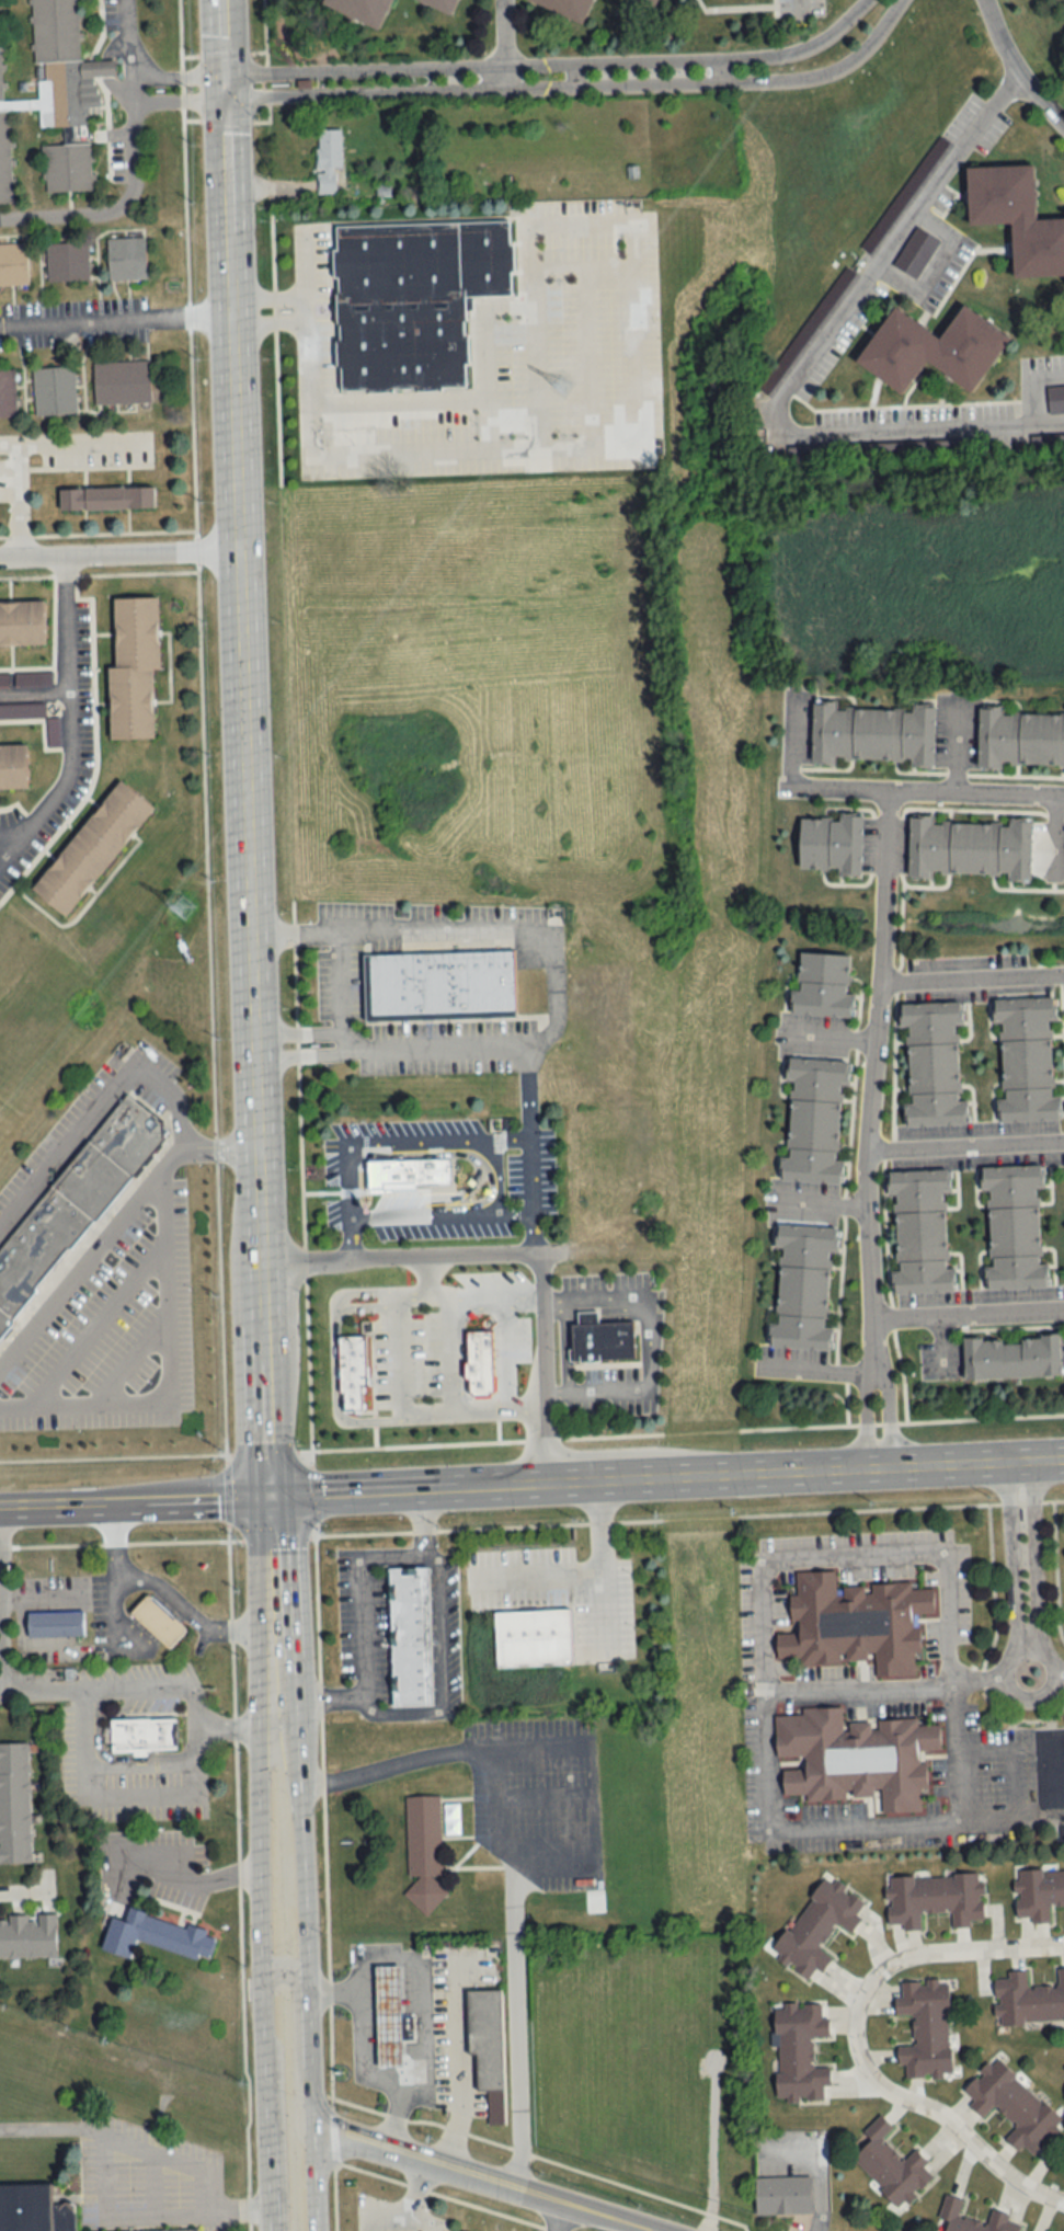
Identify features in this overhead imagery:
building: (650, 2)
building: (443, 4)
building: (567, 8)
road: (796, 9)
building: (362, 10)
road: (503, 45)
road: (549, 64)
road: (1012, 70)
traffic signals: (219, 73)
road: (173, 75)
road: (575, 88)
traffic signals: (219, 99)
road: (174, 101)
building: (328, 160)
road: (134, 167)
building: (1017, 218)
building: (915, 251)
building: (126, 259)
building: (67, 261)
building: (13, 264)
road: (594, 264)
road: (933, 268)
road: (270, 299)
building: (415, 299)
road: (531, 304)
road: (271, 322)
road: (112, 323)
building: (933, 350)
building: (791, 352)
parking lot: (510, 353)
road: (801, 366)
road: (544, 375)
building: (121, 382)
power tower: (562, 386)
road: (1033, 386)
building: (54, 390)
building: (7, 393)
building: (1055, 400)
road: (495, 422)
road: (70, 439)
building: (1052, 442)
road: (523, 446)
road: (18, 499)
building: (107, 499)
road: (116, 556)
building: (20, 619)
building: (129, 663)
road: (34, 690)
road: (69, 722)
road: (202, 726)
building: (873, 733)
building: (1020, 736)
road: (791, 740)
road: (956, 745)
road: (239, 746)
building: (11, 759)
road: (926, 796)
road: (12, 836)
road: (1061, 837)
building: (88, 844)
building: (832, 844)
building: (970, 847)
power tower: (185, 905)
road: (557, 946)
road: (970, 975)
building: (438, 981)
building: (823, 984)
road: (341, 992)
road: (828, 1034)
road: (392, 1049)
building: (1027, 1059)
building: (933, 1064)
road: (868, 1085)
road: (98, 1099)
building: (814, 1120)
building: (126, 1132)
road: (963, 1145)
building: (411, 1167)
road: (300, 1174)
road: (496, 1175)
building: (88, 1178)
road: (348, 1179)
road: (822, 1205)
building: (1015, 1227)
road: (113, 1229)
building: (922, 1232)
road: (350, 1235)
building: (35, 1243)
road: (508, 1249)
road: (430, 1271)
building: (803, 1286)
road: (638, 1295)
road: (968, 1311)
building: (3, 1318)
road: (96, 1324)
building: (600, 1338)
road: (396, 1343)
building: (1012, 1357)
road: (130, 1359)
building: (368, 1360)
road: (167, 1364)
building: (352, 1369)
road: (816, 1369)
road: (597, 1387)
road: (886, 1419)
road: (869, 1420)
road: (901, 1422)
road: (364, 1449)
road: (265, 1452)
road: (112, 1458)
road: (809, 1469)
road: (408, 1490)
road: (312, 1491)
traffic signals: (262, 1495)
road: (225, 1497)
road: (130, 1501)
road: (901, 1507)
road: (272, 1536)
road: (113, 1543)
road: (854, 1553)
road: (599, 1560)
road: (542, 1576)
road: (164, 1590)
road: (361, 1593)
road: (265, 1595)
building: (152, 1617)
building: (54, 1620)
building: (853, 1622)
building: (408, 1634)
building: (530, 1634)
road: (320, 1641)
road: (1061, 1670)
road: (95, 1687)
road: (442, 1689)
road: (1030, 1693)
road: (191, 1706)
road: (270, 1713)
road: (231, 1727)
building: (140, 1730)
road: (192, 1747)
building: (855, 1758)
road: (95, 1770)
road: (575, 1797)
building: (14, 1803)
road: (1011, 1817)
road: (794, 1824)
road: (301, 1850)
building: (423, 1852)
road: (511, 1867)
road: (188, 1880)
road: (238, 1886)
road: (25, 1890)
building: (1038, 1894)
building: (935, 1899)
road: (259, 1921)
building: (817, 1926)
building: (151, 1932)
building: (27, 1937)
road: (962, 1946)
road: (284, 1971)
road: (420, 1997)
building: (1029, 2000)
building: (389, 2016)
building: (926, 2028)
building: (488, 2046)
road: (363, 2052)
building: (799, 2052)
road: (308, 2056)
road: (458, 2069)
building: (1014, 2105)
road: (923, 2106)
road: (48, 2127)
road: (335, 2128)
road: (545, 2156)
road: (100, 2161)
building: (891, 2165)
road: (156, 2174)
road: (266, 2174)
road: (489, 2178)
road: (310, 2179)
road: (219, 2195)
road: (450, 2195)
building: (782, 2195)
road: (408, 2199)
building: (34, 2206)
road: (244, 2207)
building: (950, 2212)
road: (561, 2216)
building: (158, 2230)

